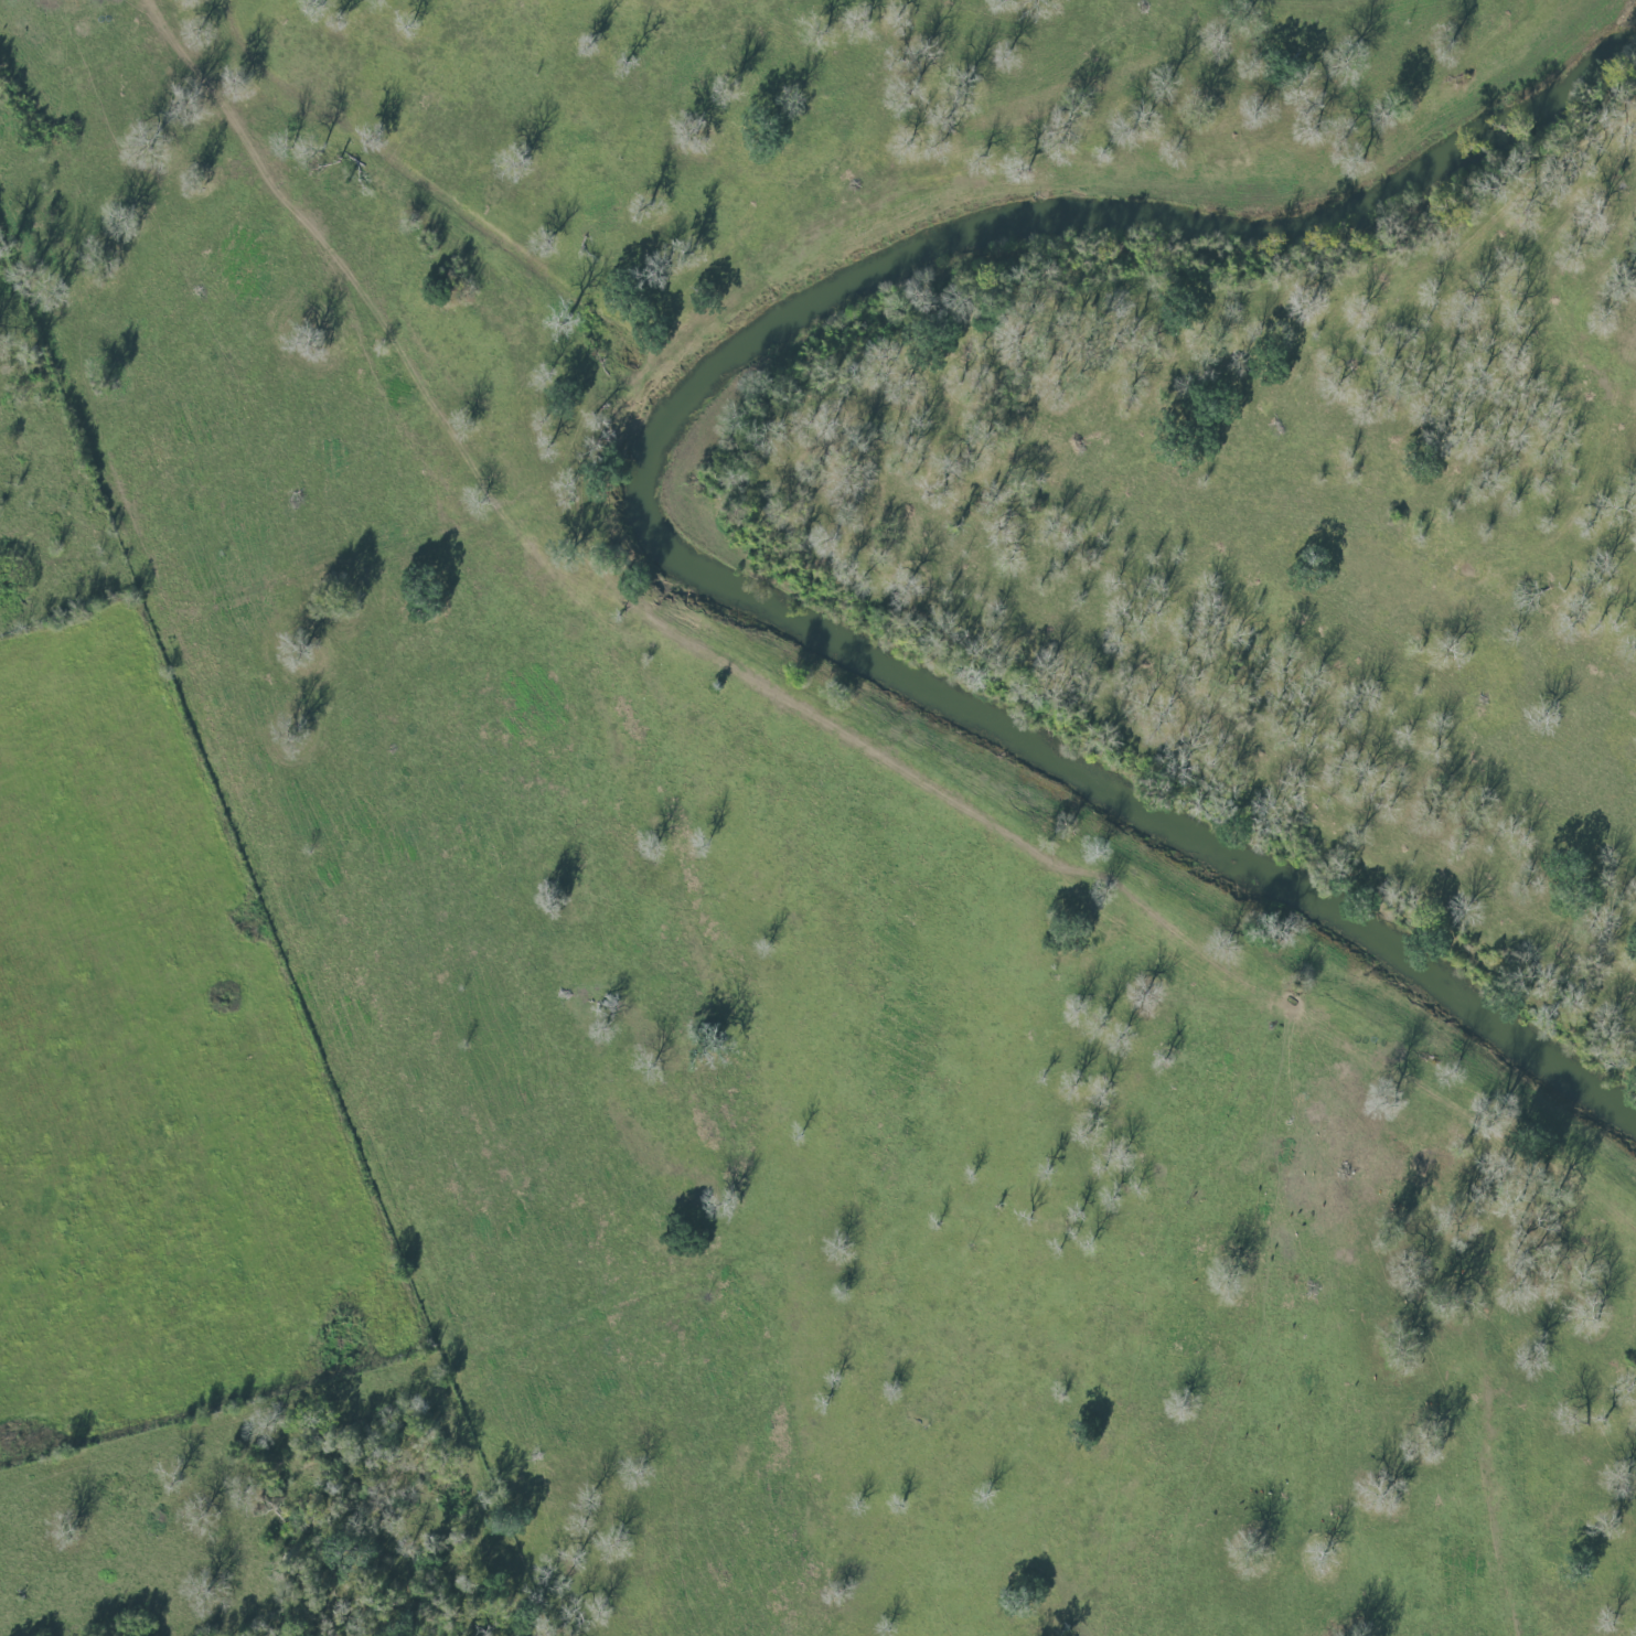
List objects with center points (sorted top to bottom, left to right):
river: (1185, 211)

